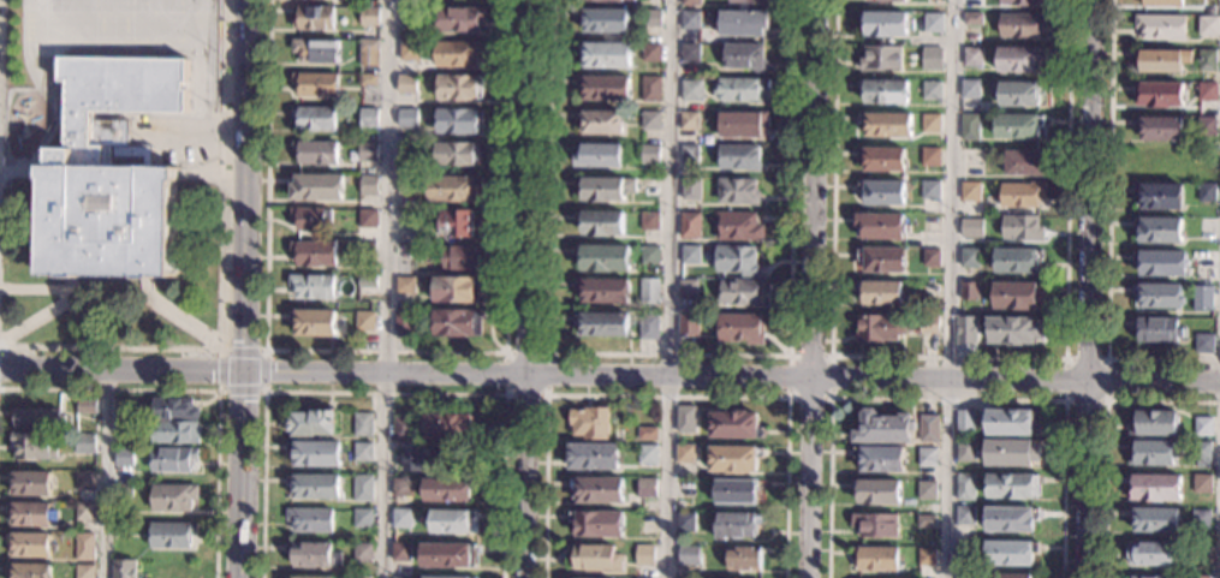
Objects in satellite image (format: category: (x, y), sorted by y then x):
building: (597, 0)
building: (625, 0)
building: (891, 0)
building: (749, 1)
building: (691, 2)
building: (1019, 2)
building: (1161, 4)
building: (410, 16)
building: (370, 17)
building: (313, 18)
building: (459, 19)
building: (648, 19)
building: (972, 19)
building: (605, 20)
building: (690, 20)
building: (744, 23)
building: (883, 23)
building: (932, 23)
building: (1020, 25)
building: (1160, 26)
building: (1207, 26)
building: (316, 50)
building: (410, 50)
building: (651, 52)
building: (369, 53)
building: (459, 53)
building: (690, 53)
building: (606, 54)
building: (744, 56)
building: (972, 56)
building: (880, 58)
building: (930, 58)
building: (1019, 59)
building: (1162, 60)
building: (1207, 61)
building: (368, 79)
building: (316, 84)
building: (407, 84)
building: (460, 88)
building: (606, 88)
building: (651, 89)
building: (740, 89)
building: (969, 89)
building: (691, 90)
building: (930, 90)
building: (1207, 91)
building: (883, 93)
building: (1017, 94)
building: (1159, 94)
building: (335, 103)
road: (167, 112)
building: (314, 118)
building: (369, 118)
building: (407, 119)
building: (458, 120)
building: (650, 120)
building: (689, 120)
building: (601, 123)
building: (742, 124)
building: (929, 124)
building: (886, 125)
building: (1017, 126)
building: (1206, 126)
building: (969, 127)
building: (1157, 129)
road: (50, 131)
road: (200, 133)
building: (368, 151)
building: (410, 151)
building: (315, 153)
building: (458, 154)
building: (647, 154)
building: (689, 154)
building: (599, 156)
building: (929, 156)
building: (738, 157)
building: (880, 159)
building: (1023, 163)
building: (108, 172)
road: (19, 173)
road: (198, 174)
building: (369, 185)
building: (406, 185)
building: (316, 187)
building: (453, 187)
building: (650, 187)
building: (606, 189)
building: (690, 189)
building: (738, 191)
building: (929, 191)
building: (969, 191)
building: (882, 193)
building: (1206, 193)
building: (1020, 195)
building: (1157, 197)
building: (310, 219)
building: (367, 220)
building: (649, 221)
building: (458, 224)
building: (601, 224)
building: (690, 226)
building: (737, 226)
building: (879, 227)
building: (970, 227)
building: (1206, 227)
building: (1020, 228)
building: (1157, 230)
road: (1107, 238)
building: (365, 248)
building: (314, 254)
building: (649, 255)
building: (689, 255)
building: (603, 257)
building: (460, 258)
building: (929, 258)
building: (968, 258)
building: (881, 260)
building: (736, 261)
building: (1016, 261)
building: (1206, 261)
building: (1161, 263)
building: (367, 281)
road: (218, 282)
building: (403, 285)
building: (313, 286)
road: (242, 288)
road: (387, 288)
road: (526, 288)
road: (667, 288)
building: (688, 288)
road: (807, 288)
road: (947, 288)
road: (1082, 288)
building: (458, 290)
road: (34, 291)
building: (648, 291)
building: (928, 291)
building: (968, 291)
building: (605, 292)
building: (740, 292)
building: (879, 293)
building: (1017, 296)
building: (1157, 296)
building: (1201, 298)
road: (44, 315)
road: (169, 318)
building: (404, 320)
building: (365, 321)
building: (313, 322)
building: (458, 323)
building: (602, 324)
building: (688, 324)
building: (928, 324)
building: (648, 327)
building: (739, 328)
building: (877, 328)
building: (1159, 329)
building: (965, 330)
building: (1012, 330)
building: (1203, 344)
road: (385, 352)
road: (667, 357)
road: (947, 360)
road: (119, 369)
traffic signals: (240, 369)
road: (382, 371)
road: (871, 379)
road: (216, 391)
road: (201, 392)
road: (383, 392)
road: (505, 393)
road: (666, 395)
road: (786, 397)
road: (945, 398)
road: (1064, 399)
building: (87, 407)
building: (174, 410)
building: (125, 411)
building: (37, 418)
building: (684, 419)
building: (964, 421)
building: (313, 423)
building: (590, 423)
building: (1010, 423)
building: (734, 424)
building: (1153, 424)
building: (363, 425)
building: (124, 427)
building: (450, 427)
building: (1202, 427)
building: (927, 428)
building: (403, 429)
building: (882, 429)
road: (1103, 430)
building: (175, 433)
building: (647, 433)
building: (85, 443)
building: (32, 446)
building: (964, 451)
building: (363, 452)
building: (684, 453)
building: (1010, 453)
building: (1150, 453)
building: (315, 454)
building: (647, 454)
building: (1201, 454)
building: (593, 457)
building: (926, 457)
building: (124, 458)
building: (173, 459)
building: (733, 459)
building: (879, 459)
building: (413, 460)
road: (105, 473)
building: (85, 481)
building: (30, 483)
building: (1201, 483)
building: (315, 485)
building: (1011, 487)
building: (362, 488)
building: (401, 488)
building: (645, 488)
building: (964, 488)
building: (1155, 488)
building: (448, 489)
building: (596, 489)
building: (121, 490)
building: (926, 490)
building: (734, 491)
building: (876, 491)
building: (173, 497)
building: (84, 512)
building: (30, 514)
building: (963, 516)
building: (362, 518)
building: (401, 518)
building: (1010, 519)
building: (1200, 519)
building: (311, 520)
building: (452, 520)
building: (1154, 520)
building: (685, 522)
building: (924, 522)
building: (597, 523)
building: (736, 525)
building: (874, 525)
building: (120, 529)
building: (172, 535)
building: (30, 544)
building: (84, 547)
building: (963, 549)
building: (400, 552)
building: (362, 553)
building: (1008, 553)
building: (1200, 553)
building: (1151, 554)
building: (313, 555)
building: (448, 555)
building: (644, 555)
building: (688, 555)
building: (926, 556)
building: (597, 559)
building: (743, 559)
building: (875, 559)
building: (123, 568)
building: (29, 571)
building: (84, 571)
building: (963, 574)
building: (1012, 576)
building: (308, 577)
building: (358, 577)
building: (400, 577)
building: (440, 577)
building: (569, 577)
building: (643, 577)
building: (1142, 577)
building: (1198, 577)

